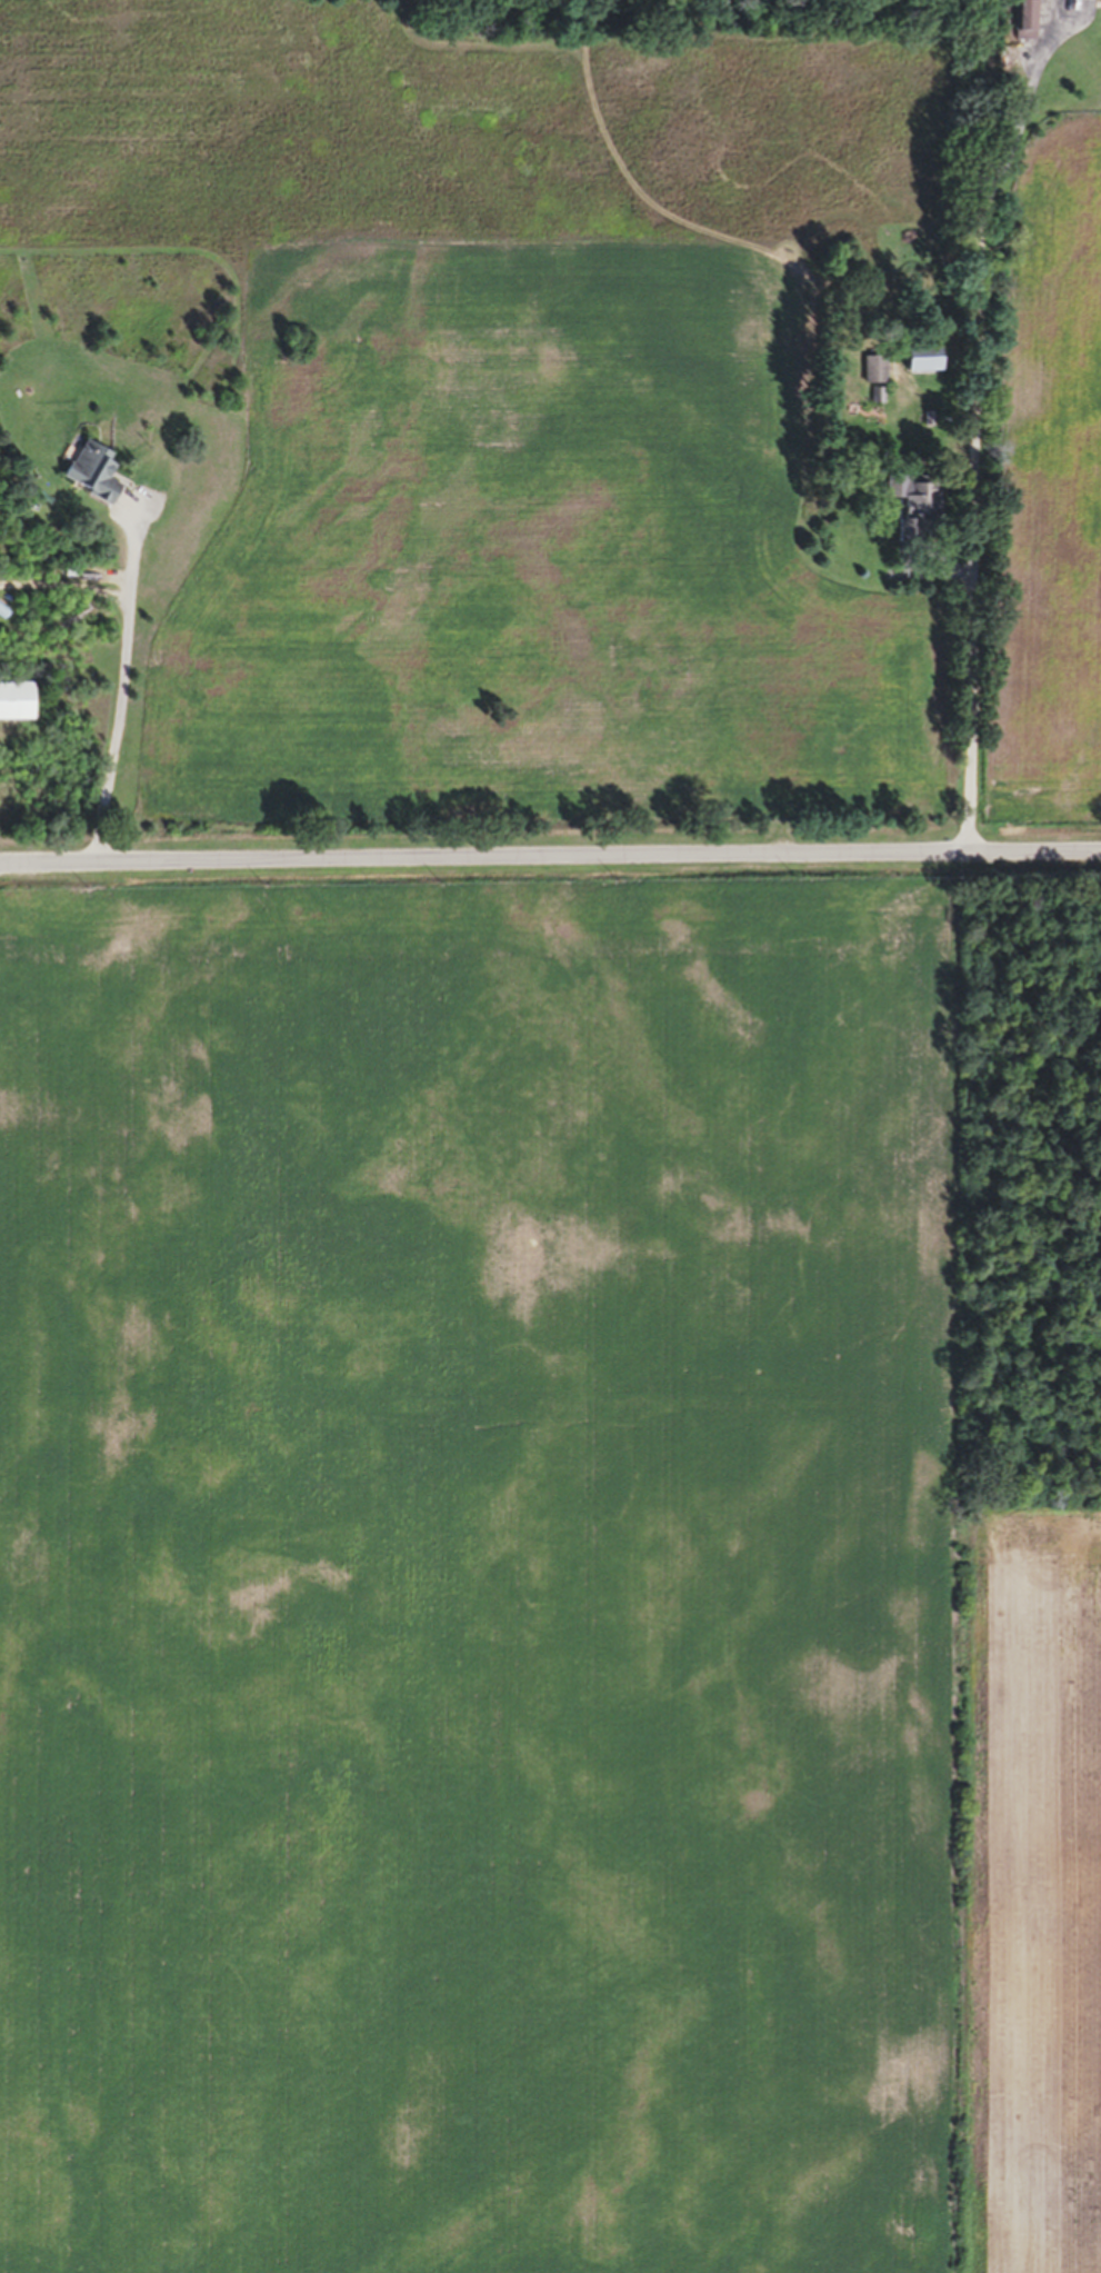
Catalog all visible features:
building: (1085, 1)
building: (922, 366)
building: (871, 378)
building: (90, 479)
building: (915, 519)
road: (111, 697)
building: (14, 710)
road: (550, 867)
crop: (519, 1604)

